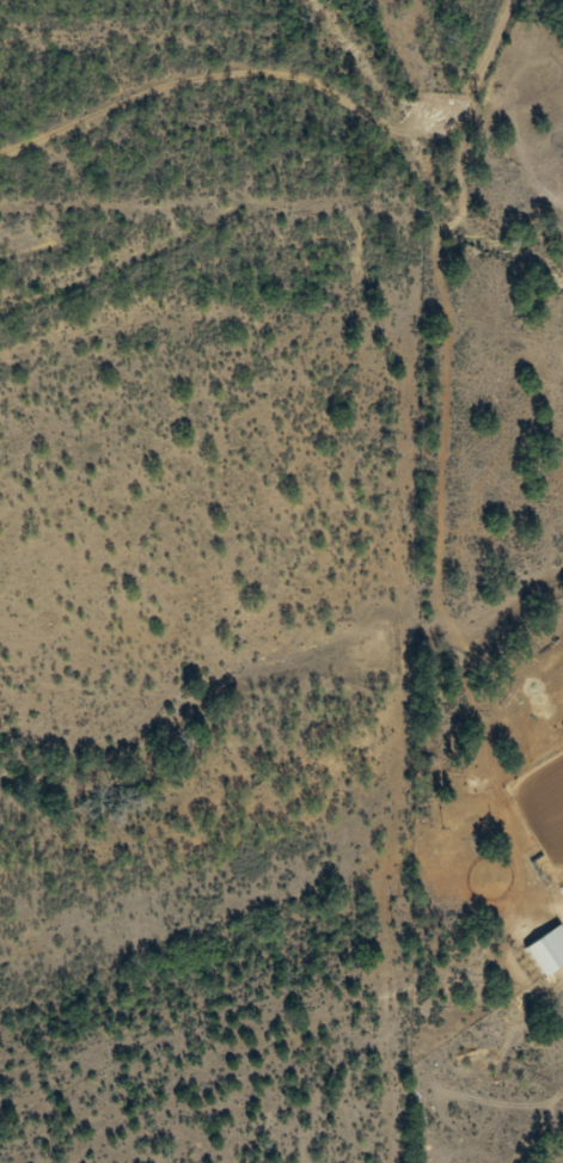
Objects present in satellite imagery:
road: (292, 92)
building: (547, 951)

